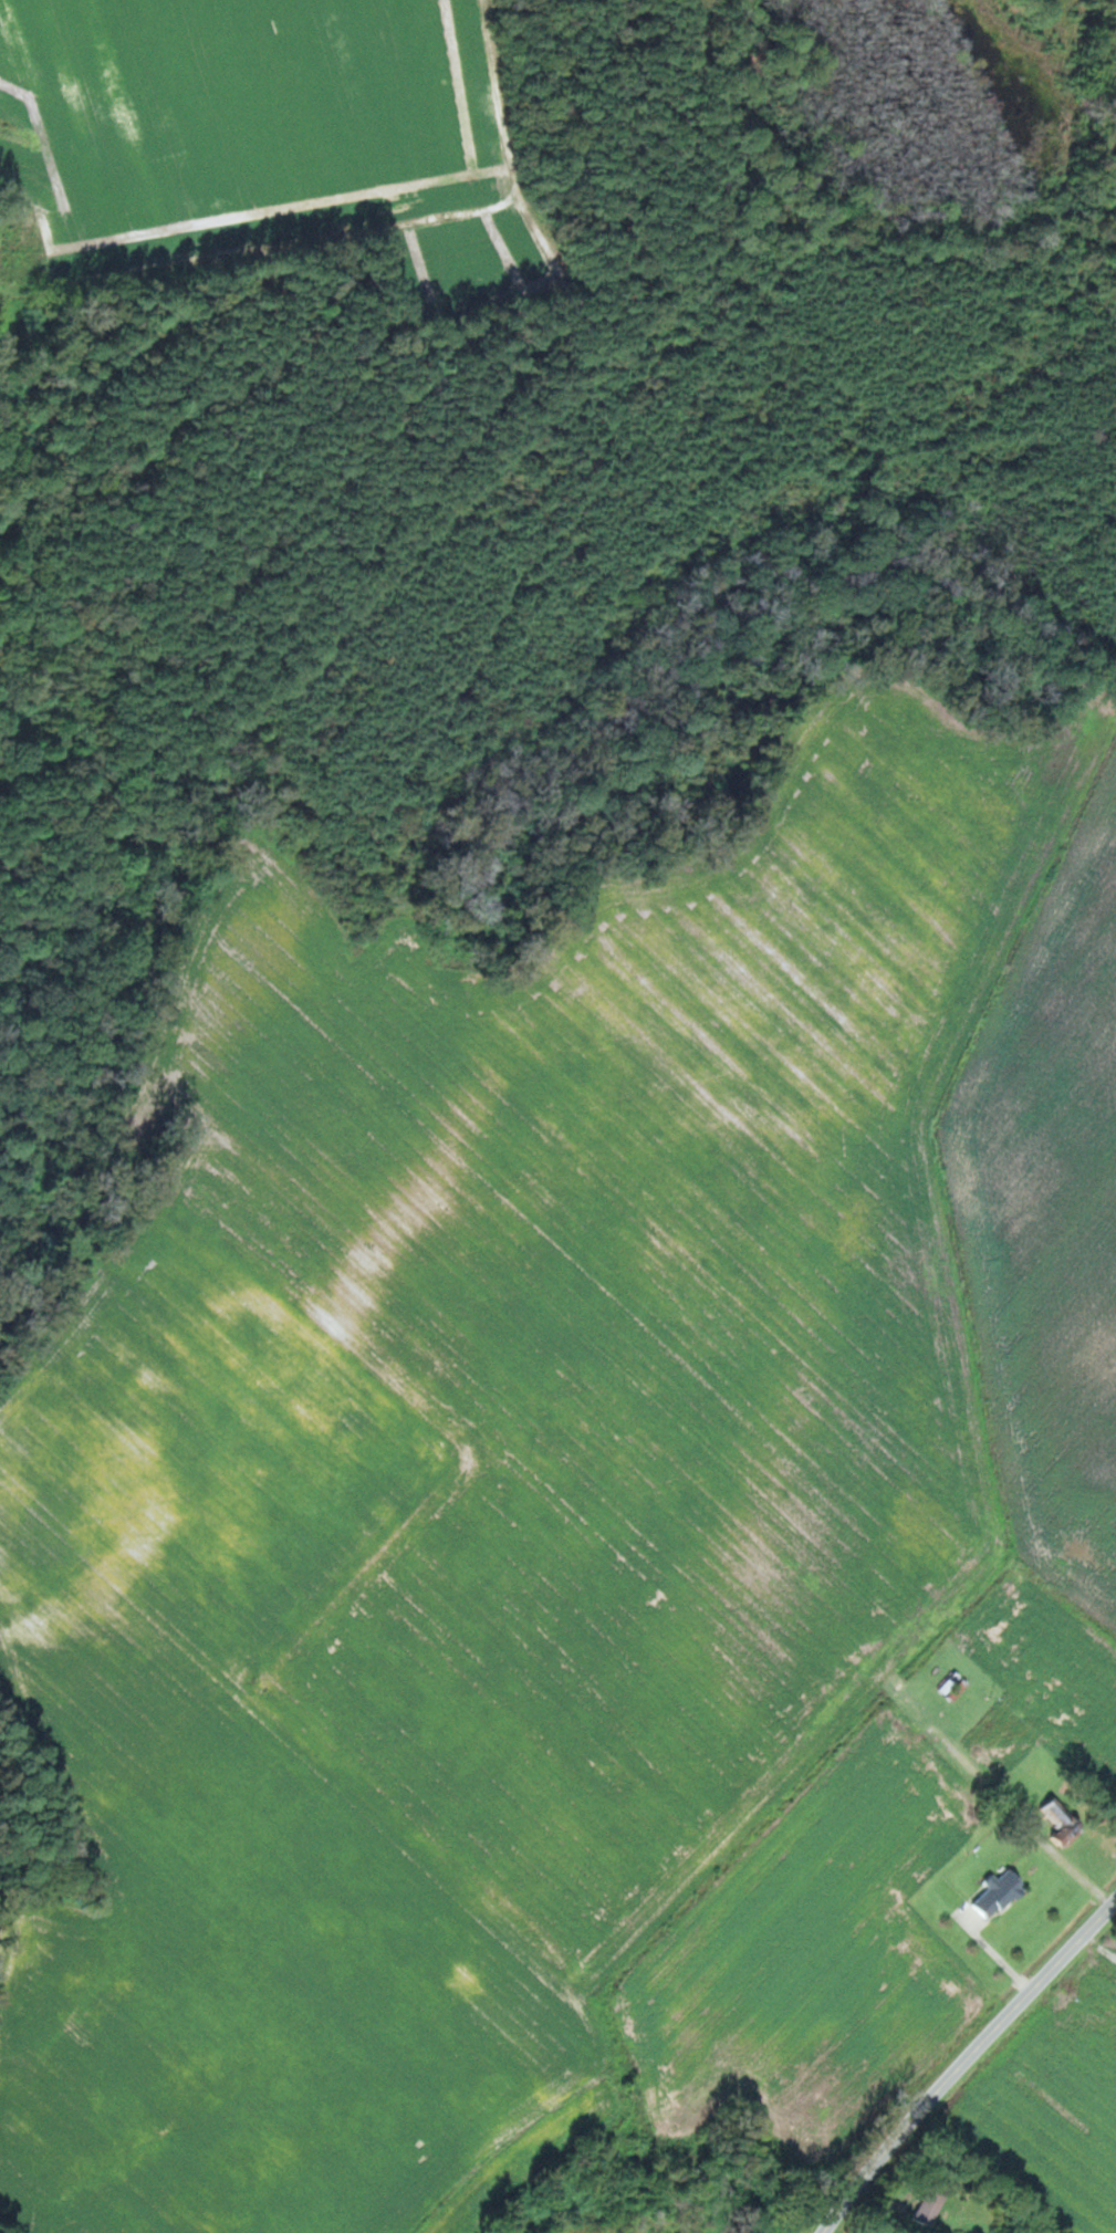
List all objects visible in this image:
building: (1061, 1820)
building: (994, 1892)
road: (968, 2059)
building: (928, 2205)

